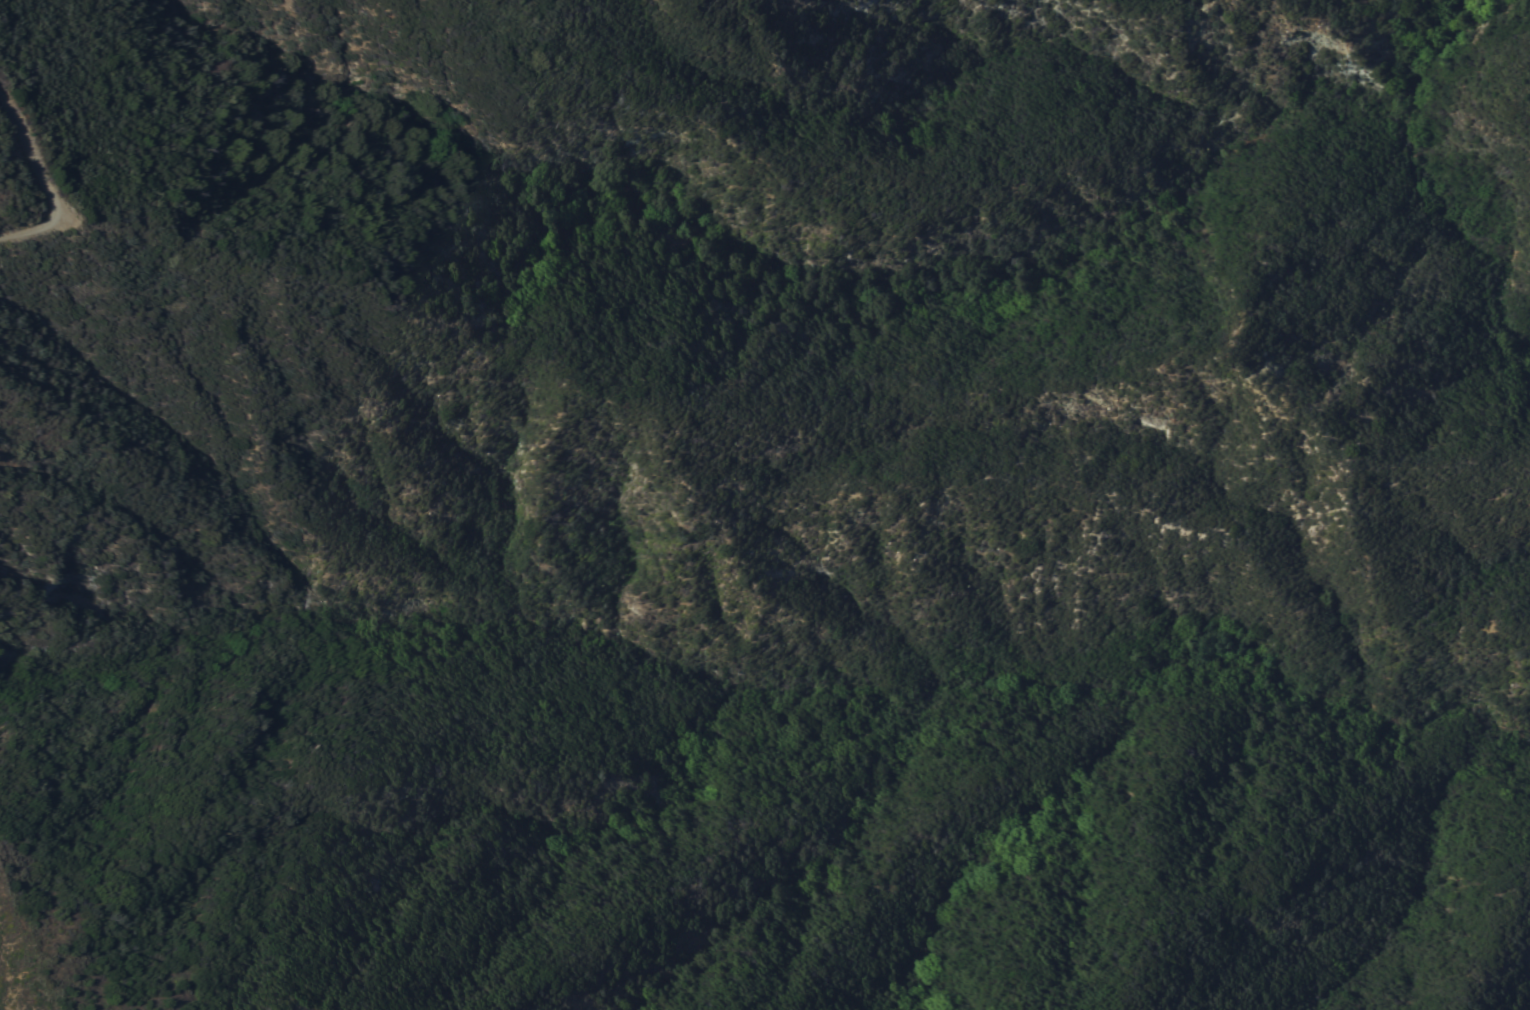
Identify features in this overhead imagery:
road: (45, 176)
road: (3, 995)

